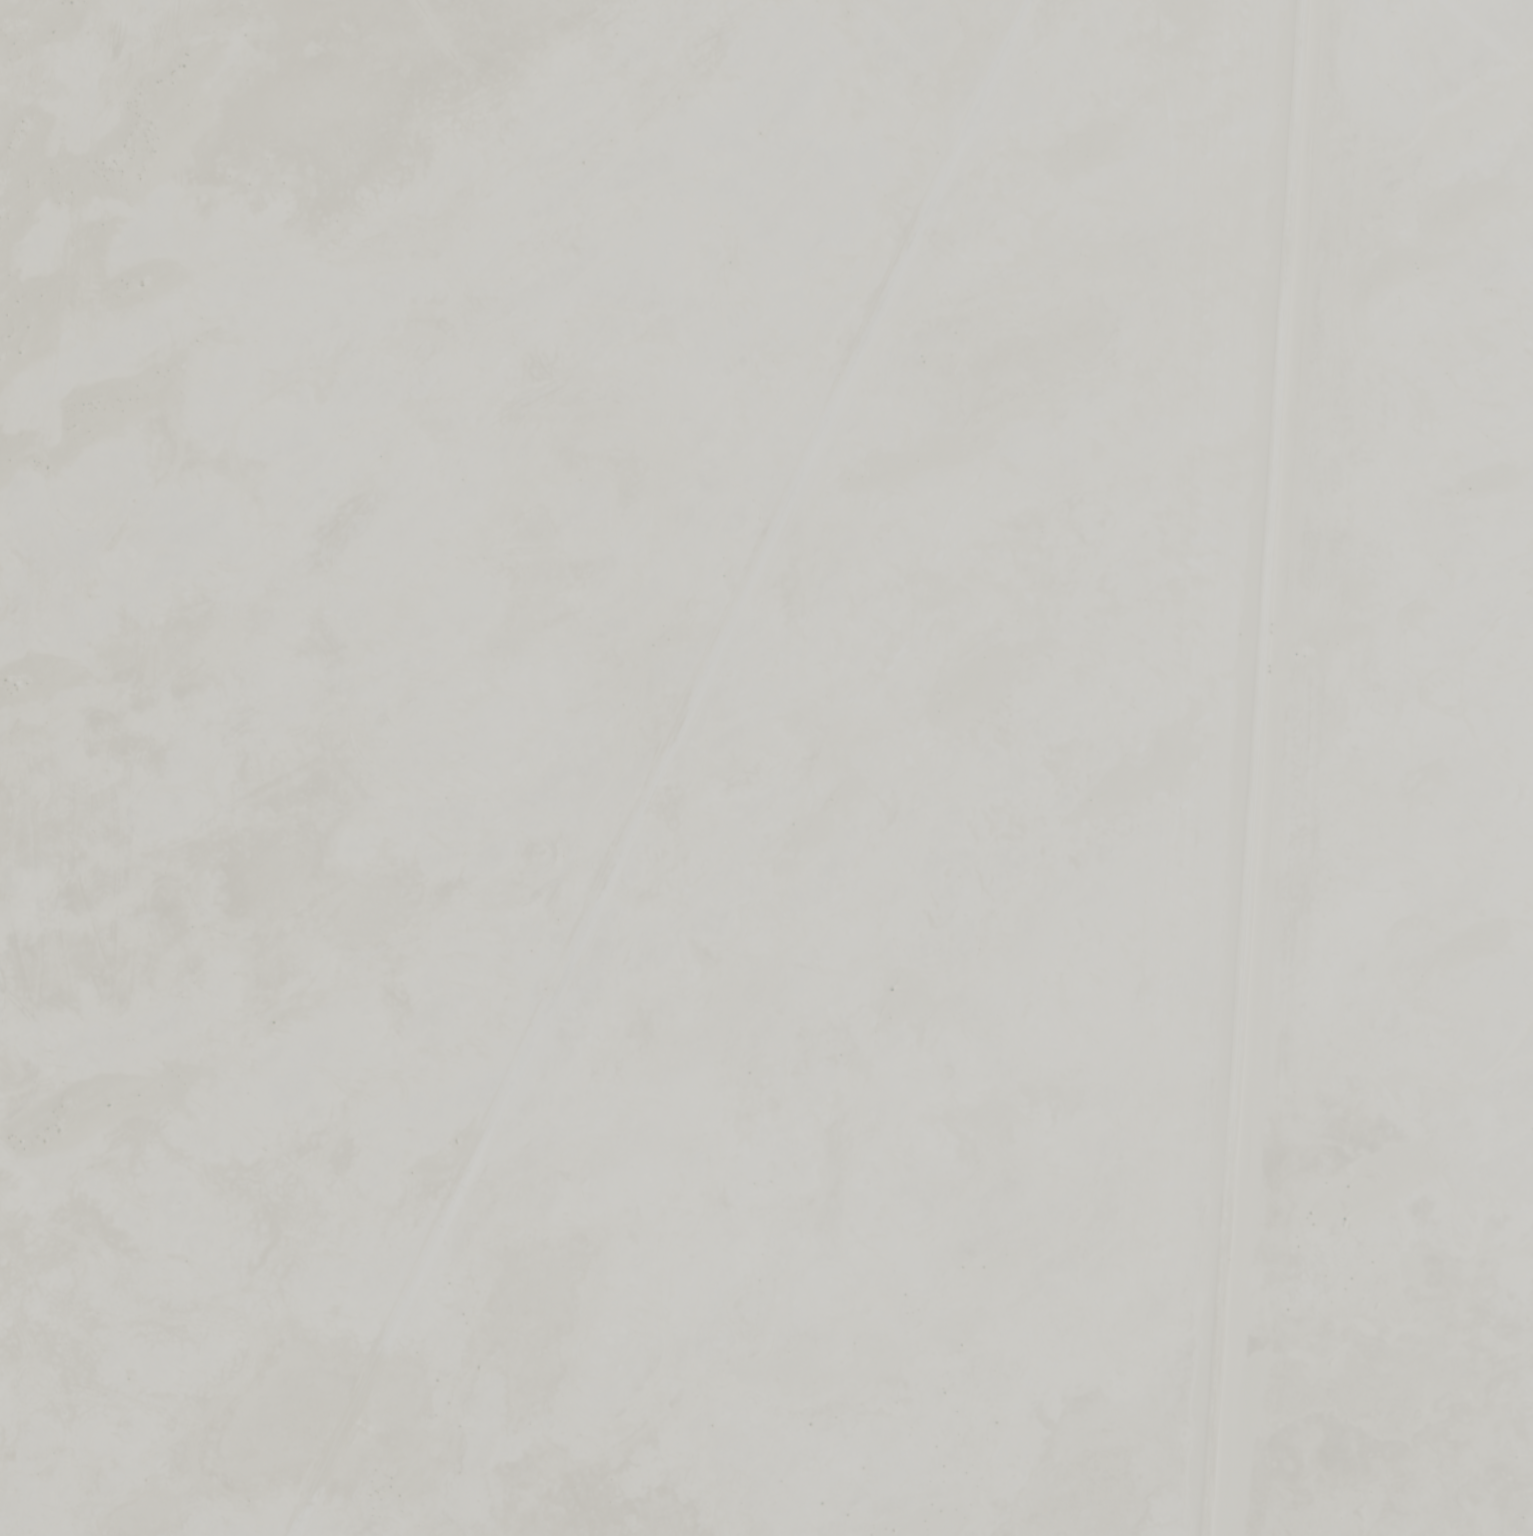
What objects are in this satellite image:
building: (1082, 95)
building: (132, 154)
building: (322, 242)
building: (1044, 242)
building: (169, 382)
building: (988, 541)
road: (1257, 768)
building: (168, 859)
building: (24, 1111)
building: (18, 1333)
building: (89, 1448)
building: (51, 1491)

